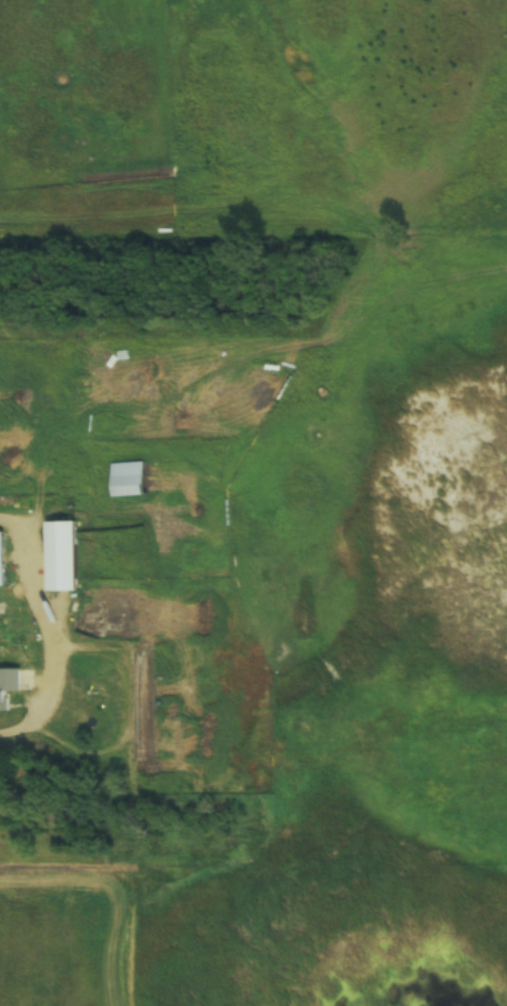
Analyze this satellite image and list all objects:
building: (129, 480)
building: (61, 556)
building: (2, 559)
road: (52, 631)
building: (8, 686)

